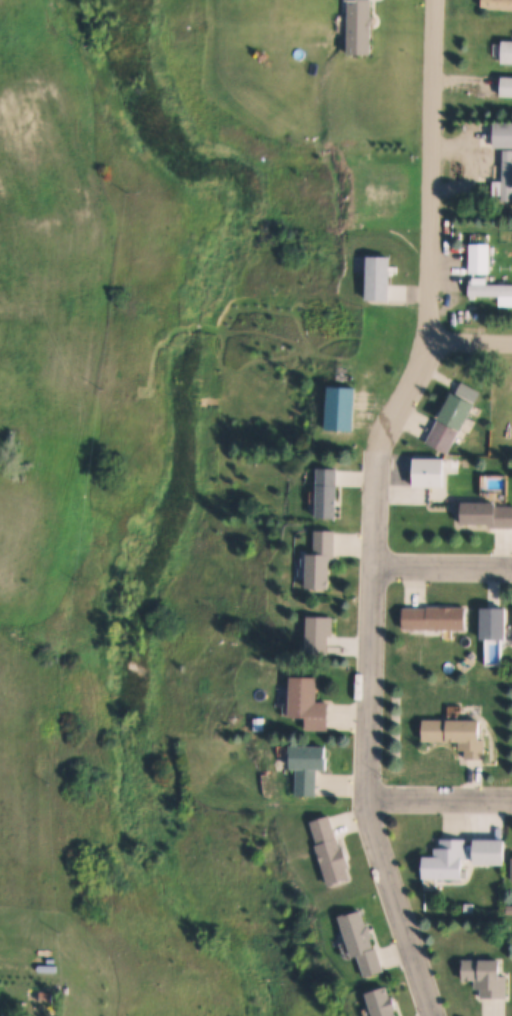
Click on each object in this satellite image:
building: (497, 3)
building: (358, 27)
building: (507, 52)
building: (506, 86)
building: (502, 134)
building: (505, 178)
road: (434, 228)
building: (479, 259)
building: (491, 292)
road: (472, 344)
building: (461, 407)
building: (342, 409)
building: (443, 437)
building: (431, 474)
building: (327, 493)
building: (487, 514)
building: (321, 560)
road: (444, 566)
building: (434, 618)
building: (491, 623)
building: (318, 635)
building: (308, 703)
building: (259, 725)
road: (370, 735)
building: (466, 737)
building: (308, 767)
road: (441, 801)
building: (331, 852)
building: (446, 860)
building: (468, 907)
building: (509, 909)
building: (504, 929)
building: (361, 942)
building: (486, 976)
building: (382, 1002)

